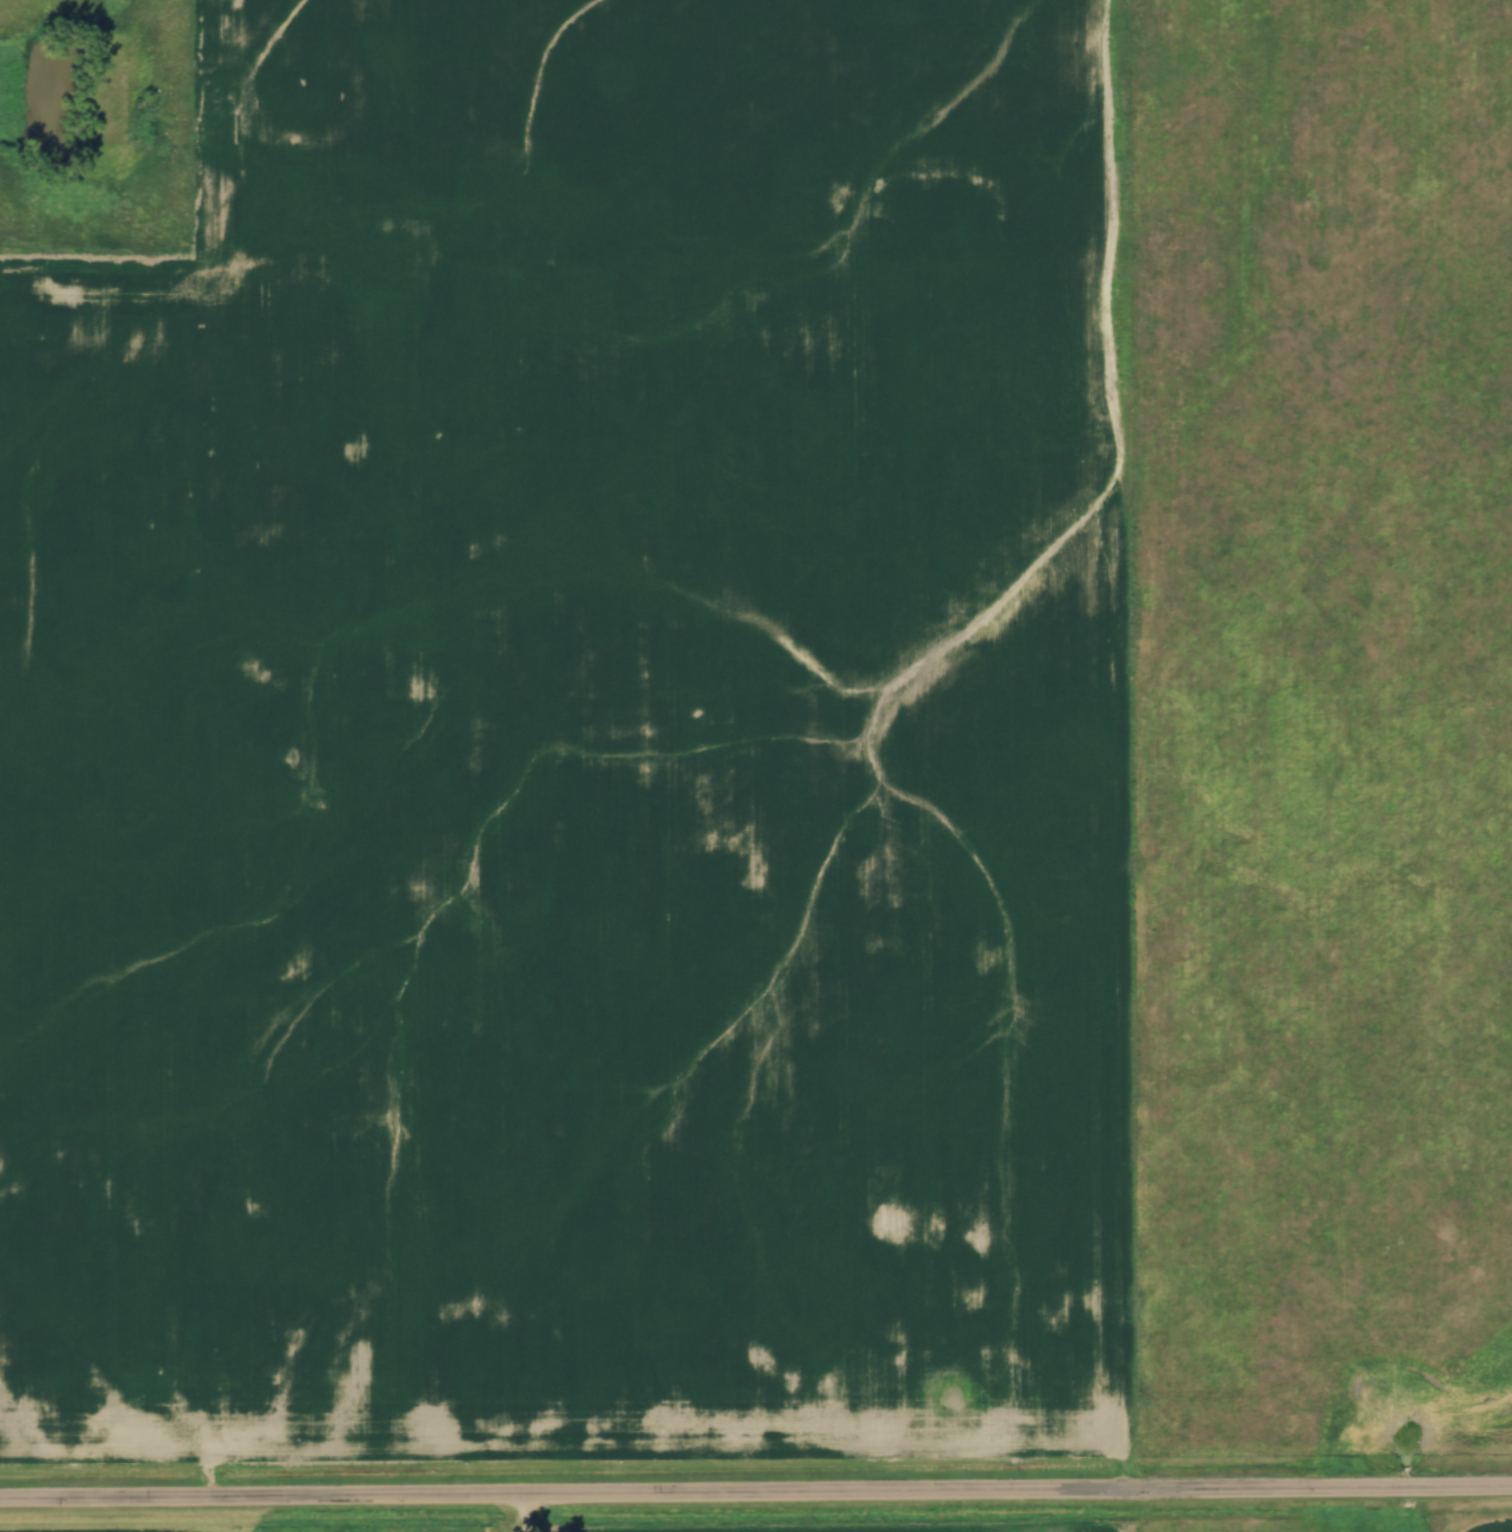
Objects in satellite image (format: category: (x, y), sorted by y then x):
road: (755, 1489)
road: (526, 1512)

